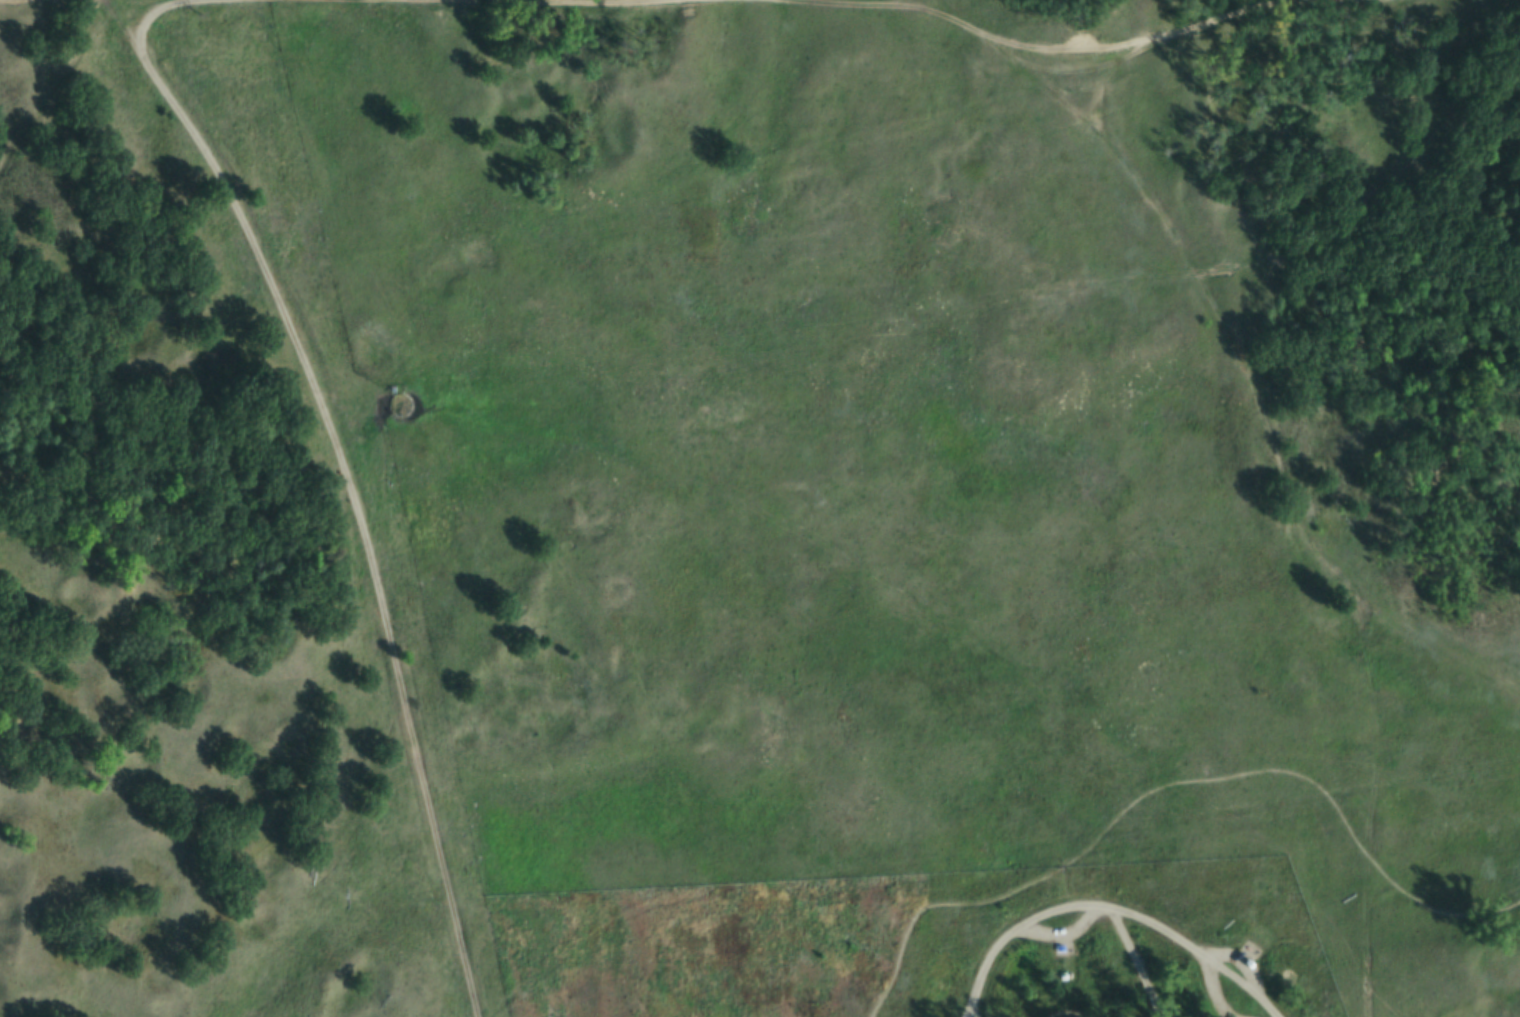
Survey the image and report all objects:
road: (492, 1)
road: (147, 12)
road: (1035, 51)
road: (352, 484)
road: (1174, 783)
road: (1106, 909)

